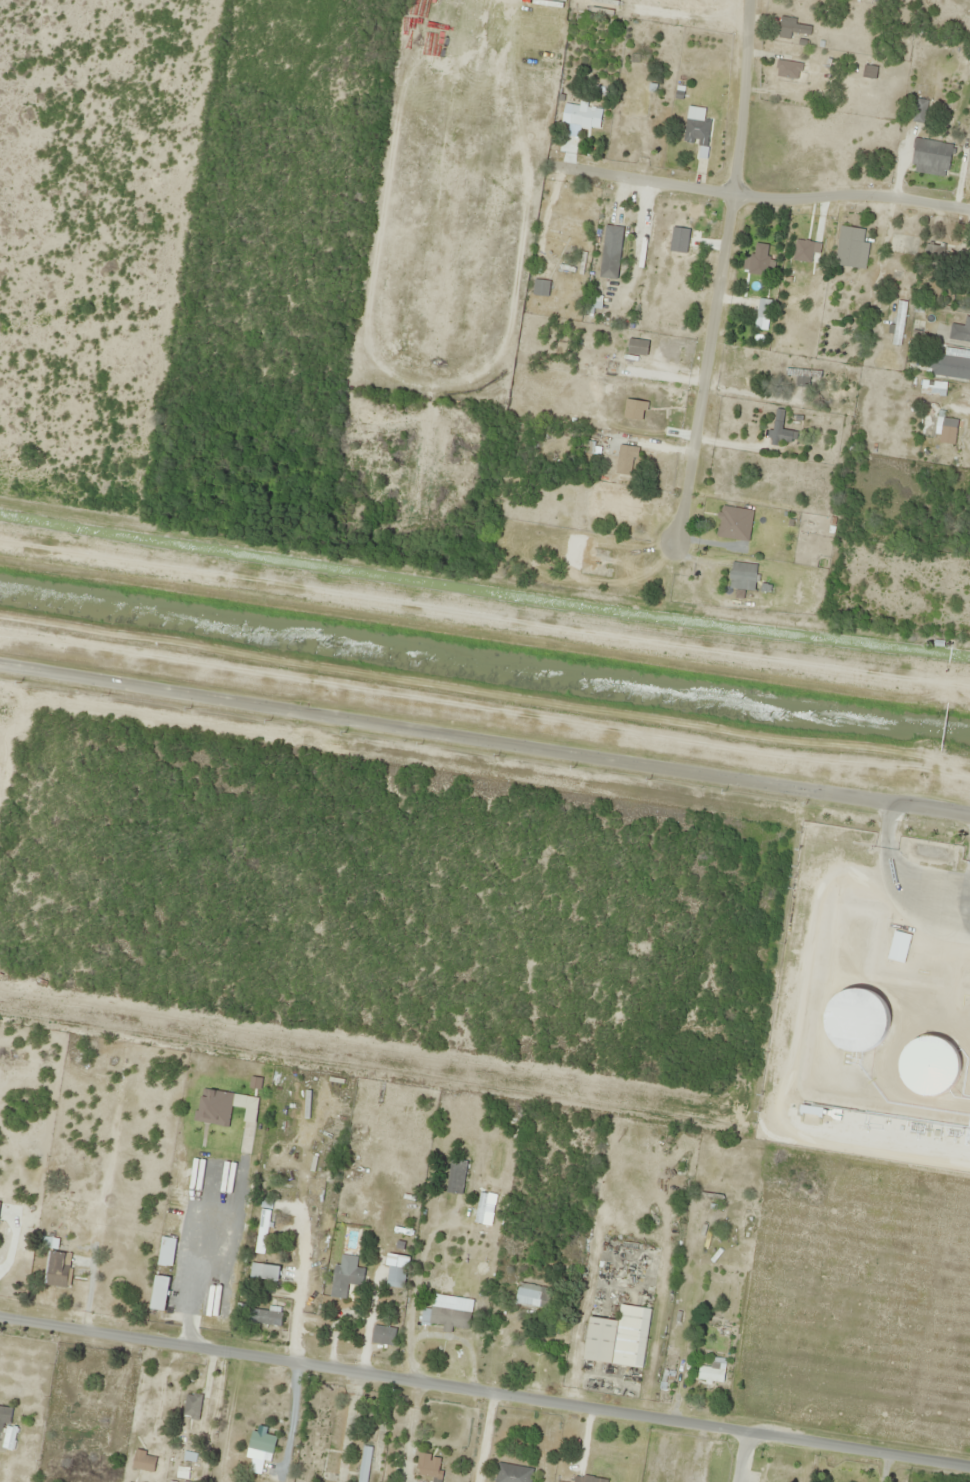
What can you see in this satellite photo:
building: (792, 28)
building: (788, 69)
building: (869, 71)
building: (919, 111)
building: (584, 118)
building: (697, 133)
building: (930, 158)
road: (759, 196)
building: (566, 227)
building: (850, 248)
building: (932, 253)
building: (759, 261)
building: (610, 262)
road: (724, 262)
building: (968, 269)
building: (540, 288)
building: (898, 323)
building: (960, 331)
building: (637, 350)
building: (949, 363)
building: (938, 388)
building: (780, 431)
building: (948, 431)
building: (625, 460)
building: (734, 524)
building: (742, 576)
road: (484, 729)
road: (893, 879)
building: (862, 1023)
storage tank: (862, 1023)
building: (925, 1066)
storage tank: (925, 1066)
building: (455, 1177)
building: (69, 1204)
building: (262, 1232)
road: (24, 1238)
building: (166, 1252)
building: (56, 1269)
building: (264, 1272)
building: (395, 1278)
building: (345, 1280)
building: (159, 1294)
building: (533, 1295)
building: (264, 1317)
building: (444, 1318)
building: (383, 1335)
building: (619, 1338)
building: (712, 1372)
road: (484, 1390)
building: (192, 1406)
building: (4, 1418)
building: (262, 1442)
building: (144, 1462)
building: (364, 1464)
building: (429, 1467)
building: (512, 1473)
building: (587, 1479)

